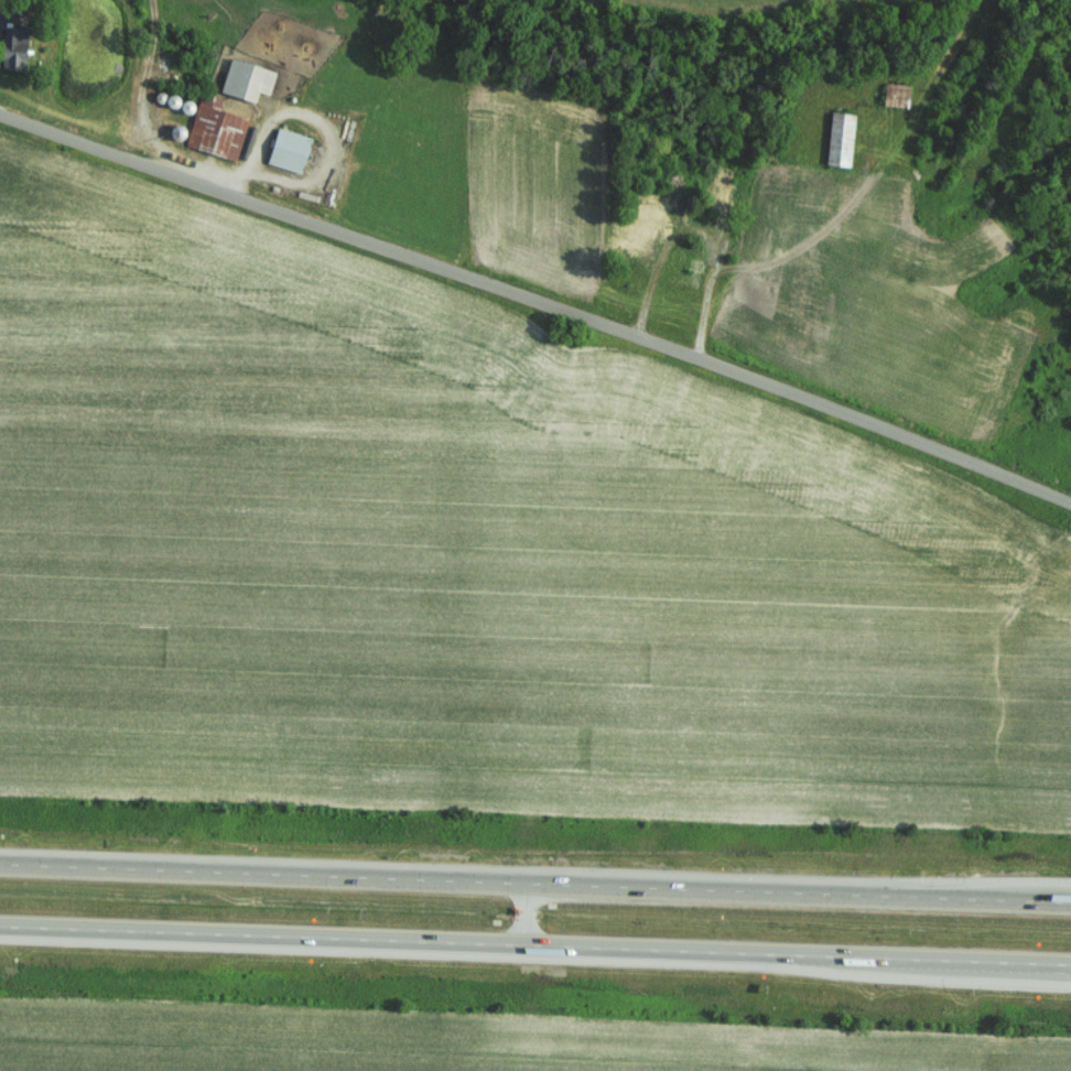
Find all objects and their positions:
building: (10, 56)
building: (245, 79)
building: (288, 149)
road: (718, 234)
road: (537, 303)
crop: (463, 563)
road: (535, 881)
road: (521, 912)
road: (535, 944)
crop: (428, 1045)
crop: (1037, 1057)

